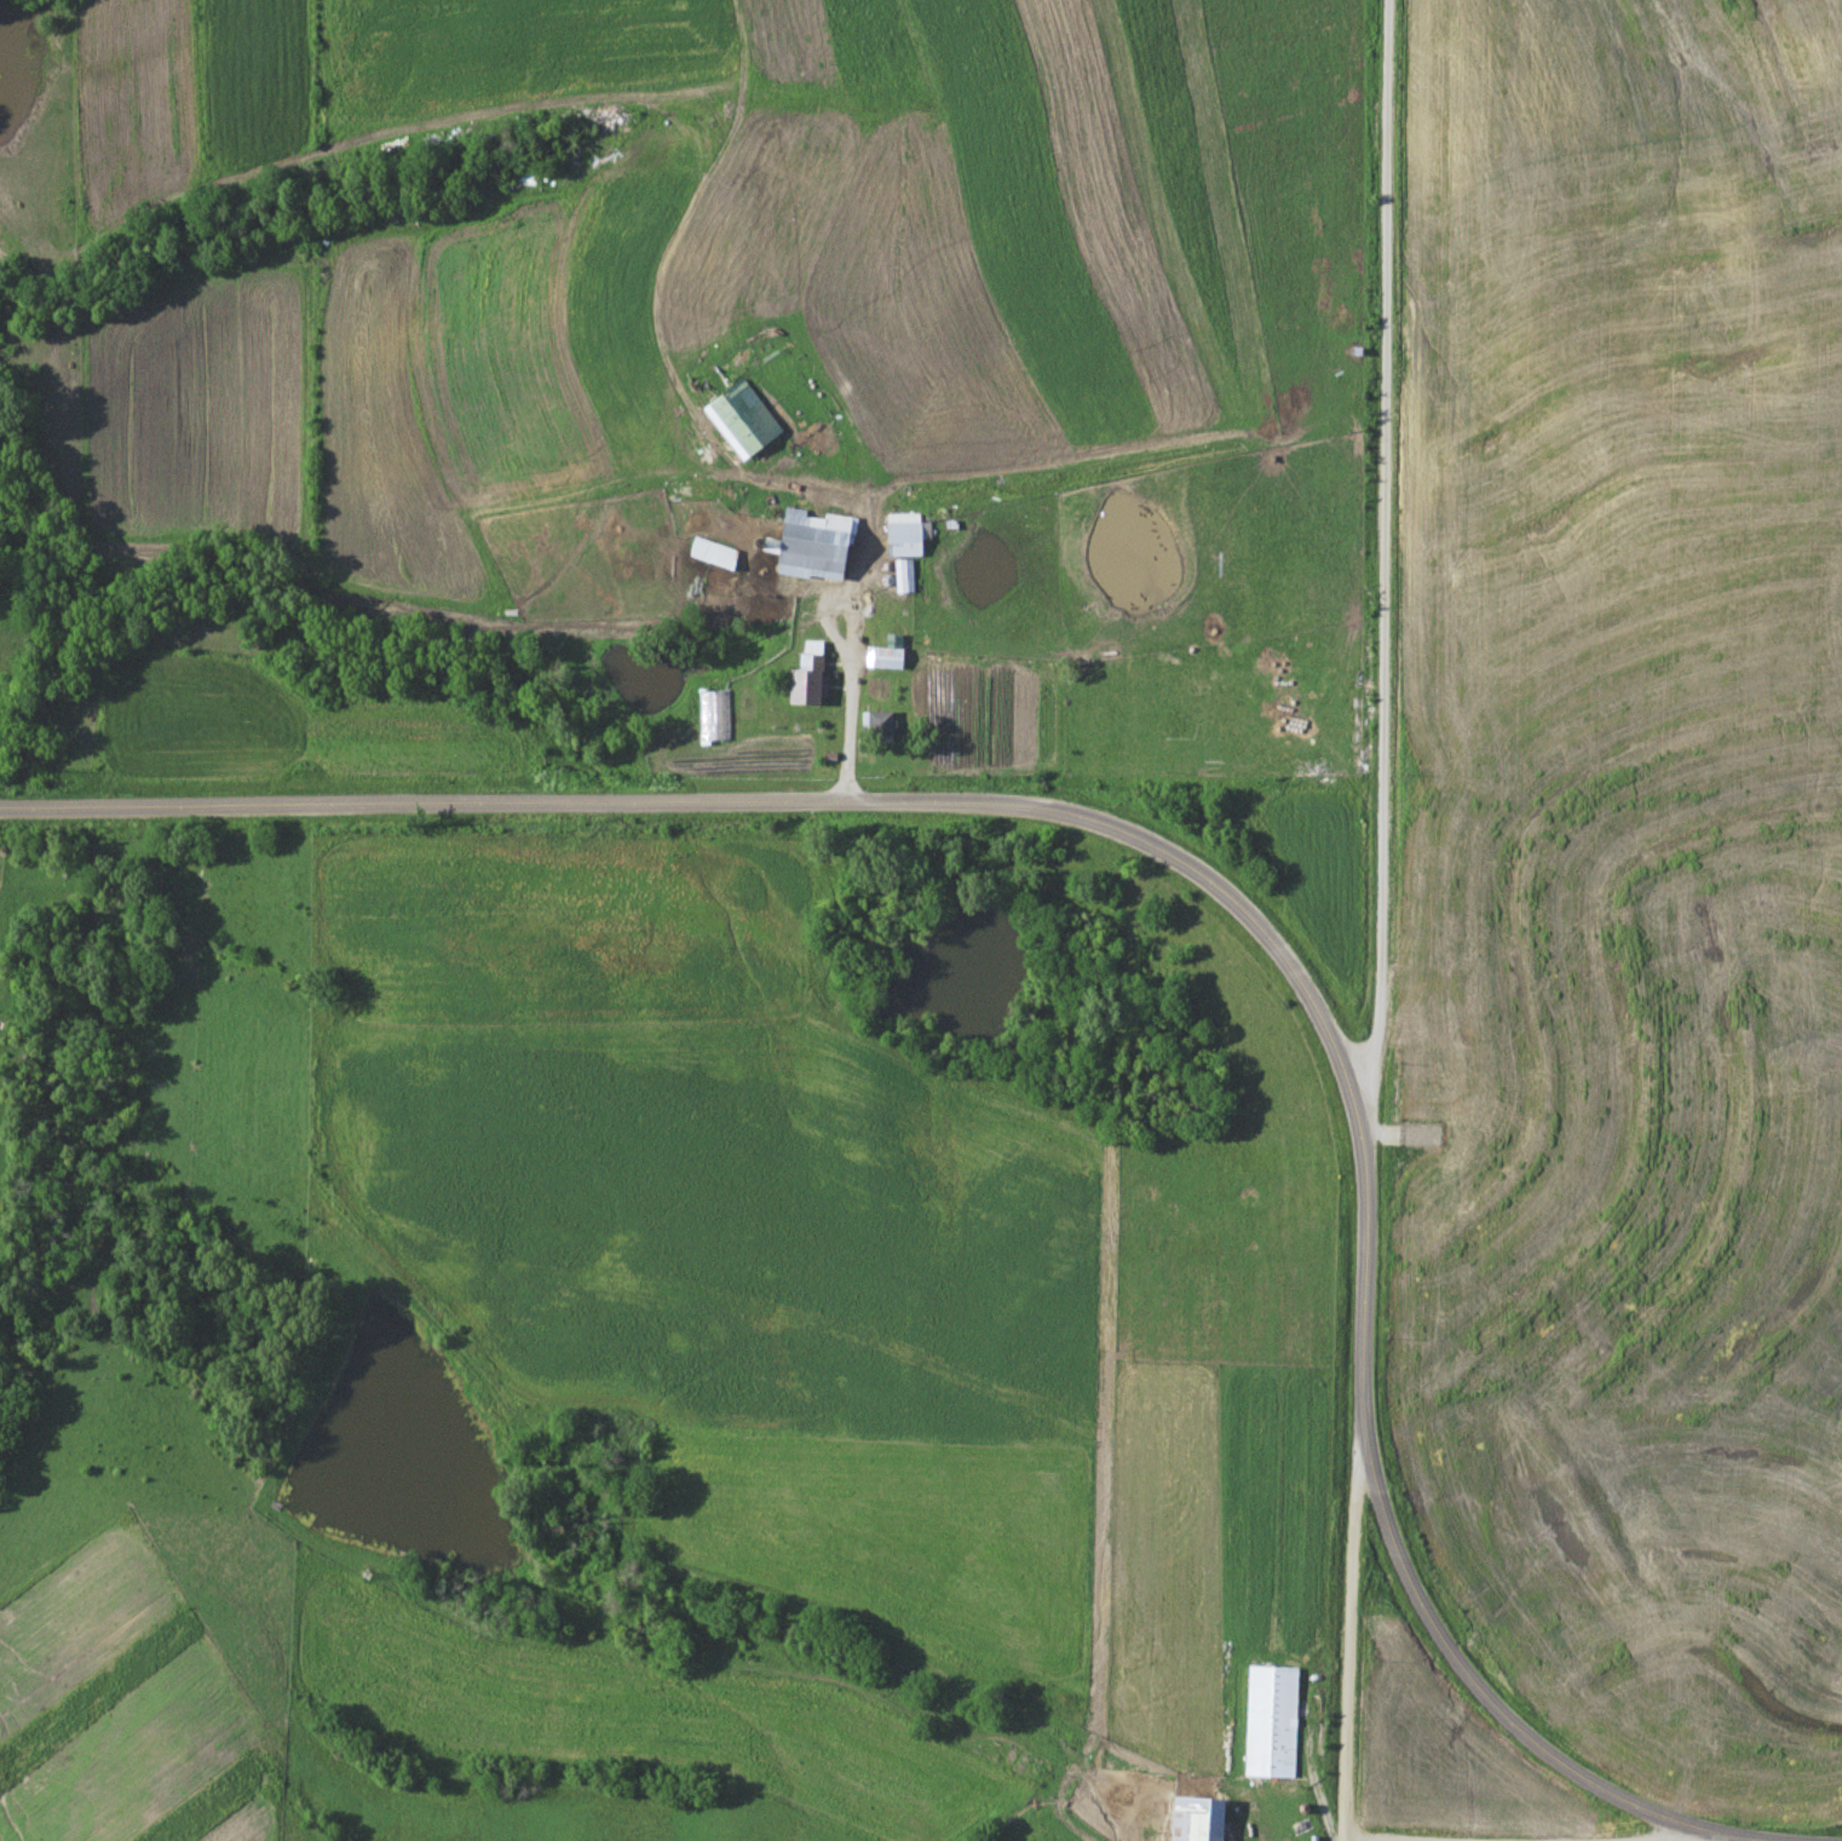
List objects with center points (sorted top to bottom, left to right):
building: (903, 533)
building: (816, 550)
road: (1386, 559)
building: (807, 681)
building: (880, 724)
road: (913, 800)
road: (1348, 1636)
road: (1472, 1681)
road: (1670, 1834)
road: (1735, 1835)

